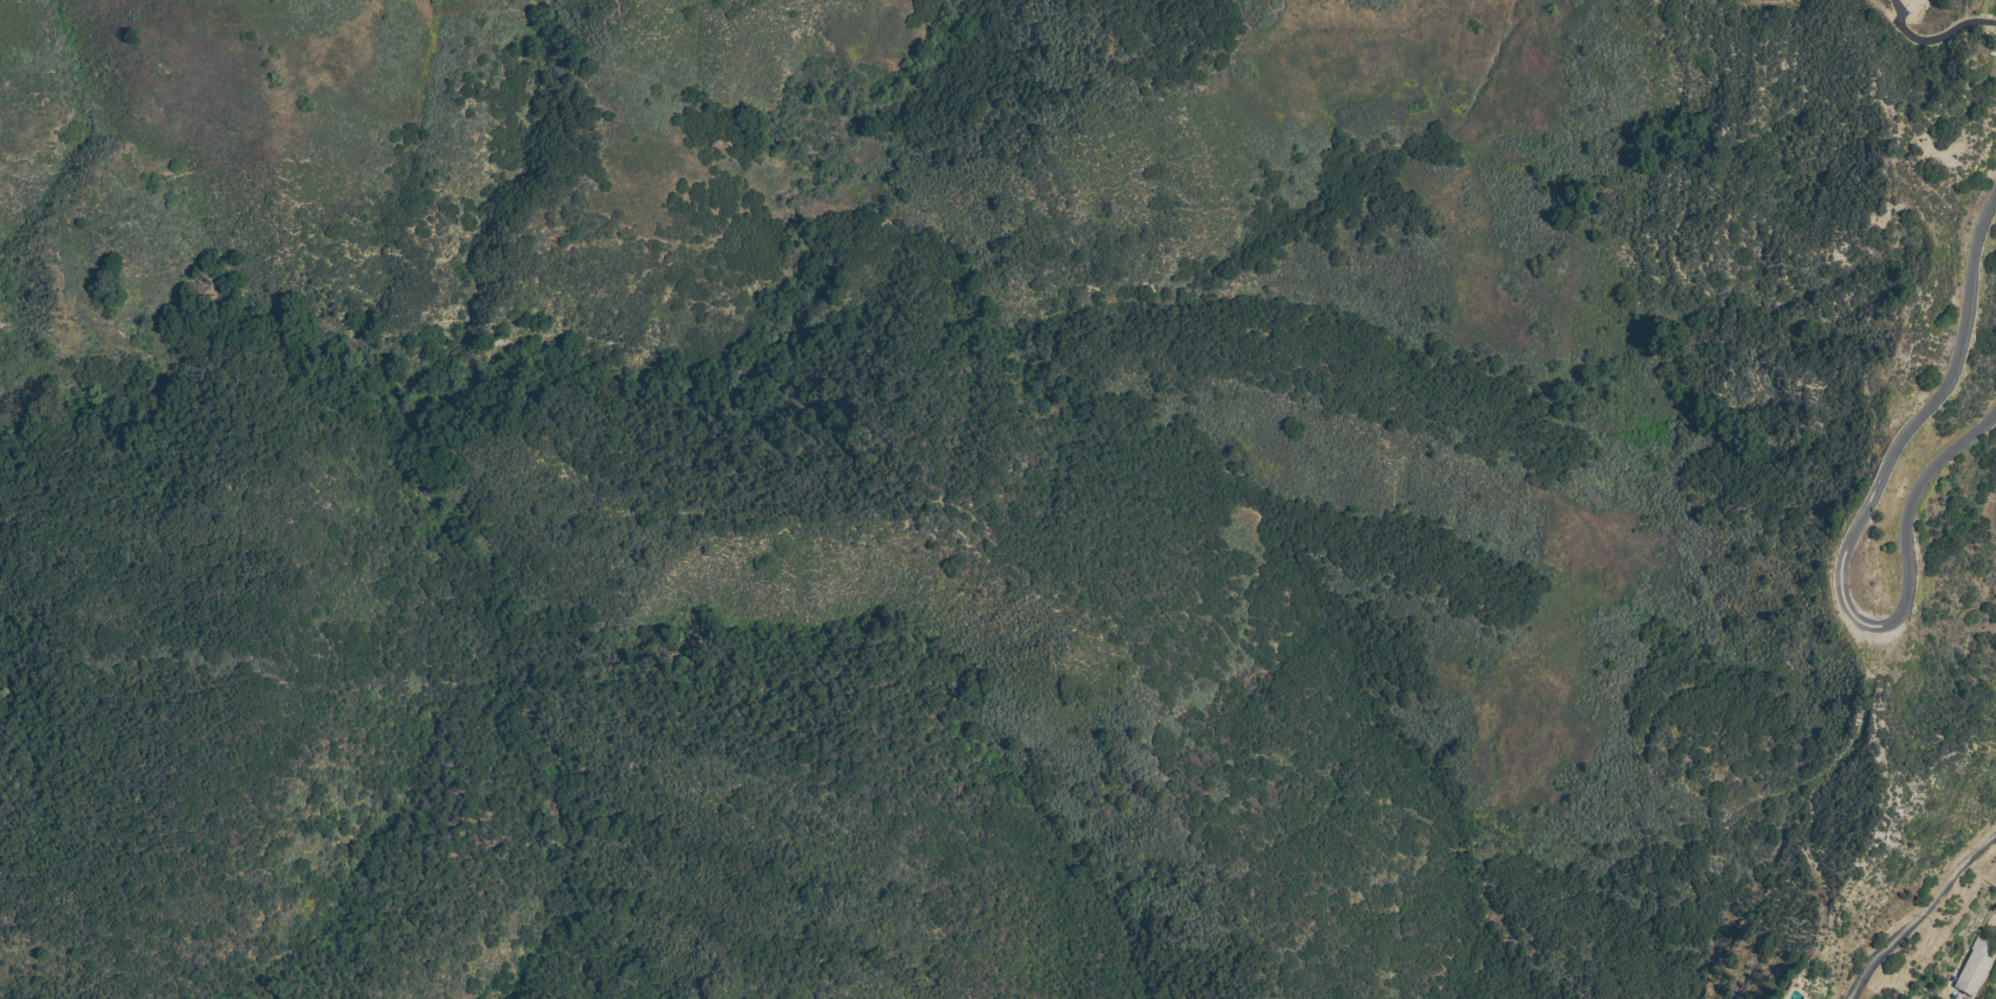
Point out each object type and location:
road: (1854, 536)
road: (1923, 917)
road: (1993, 927)
building: (1975, 967)
building: (1803, 982)

